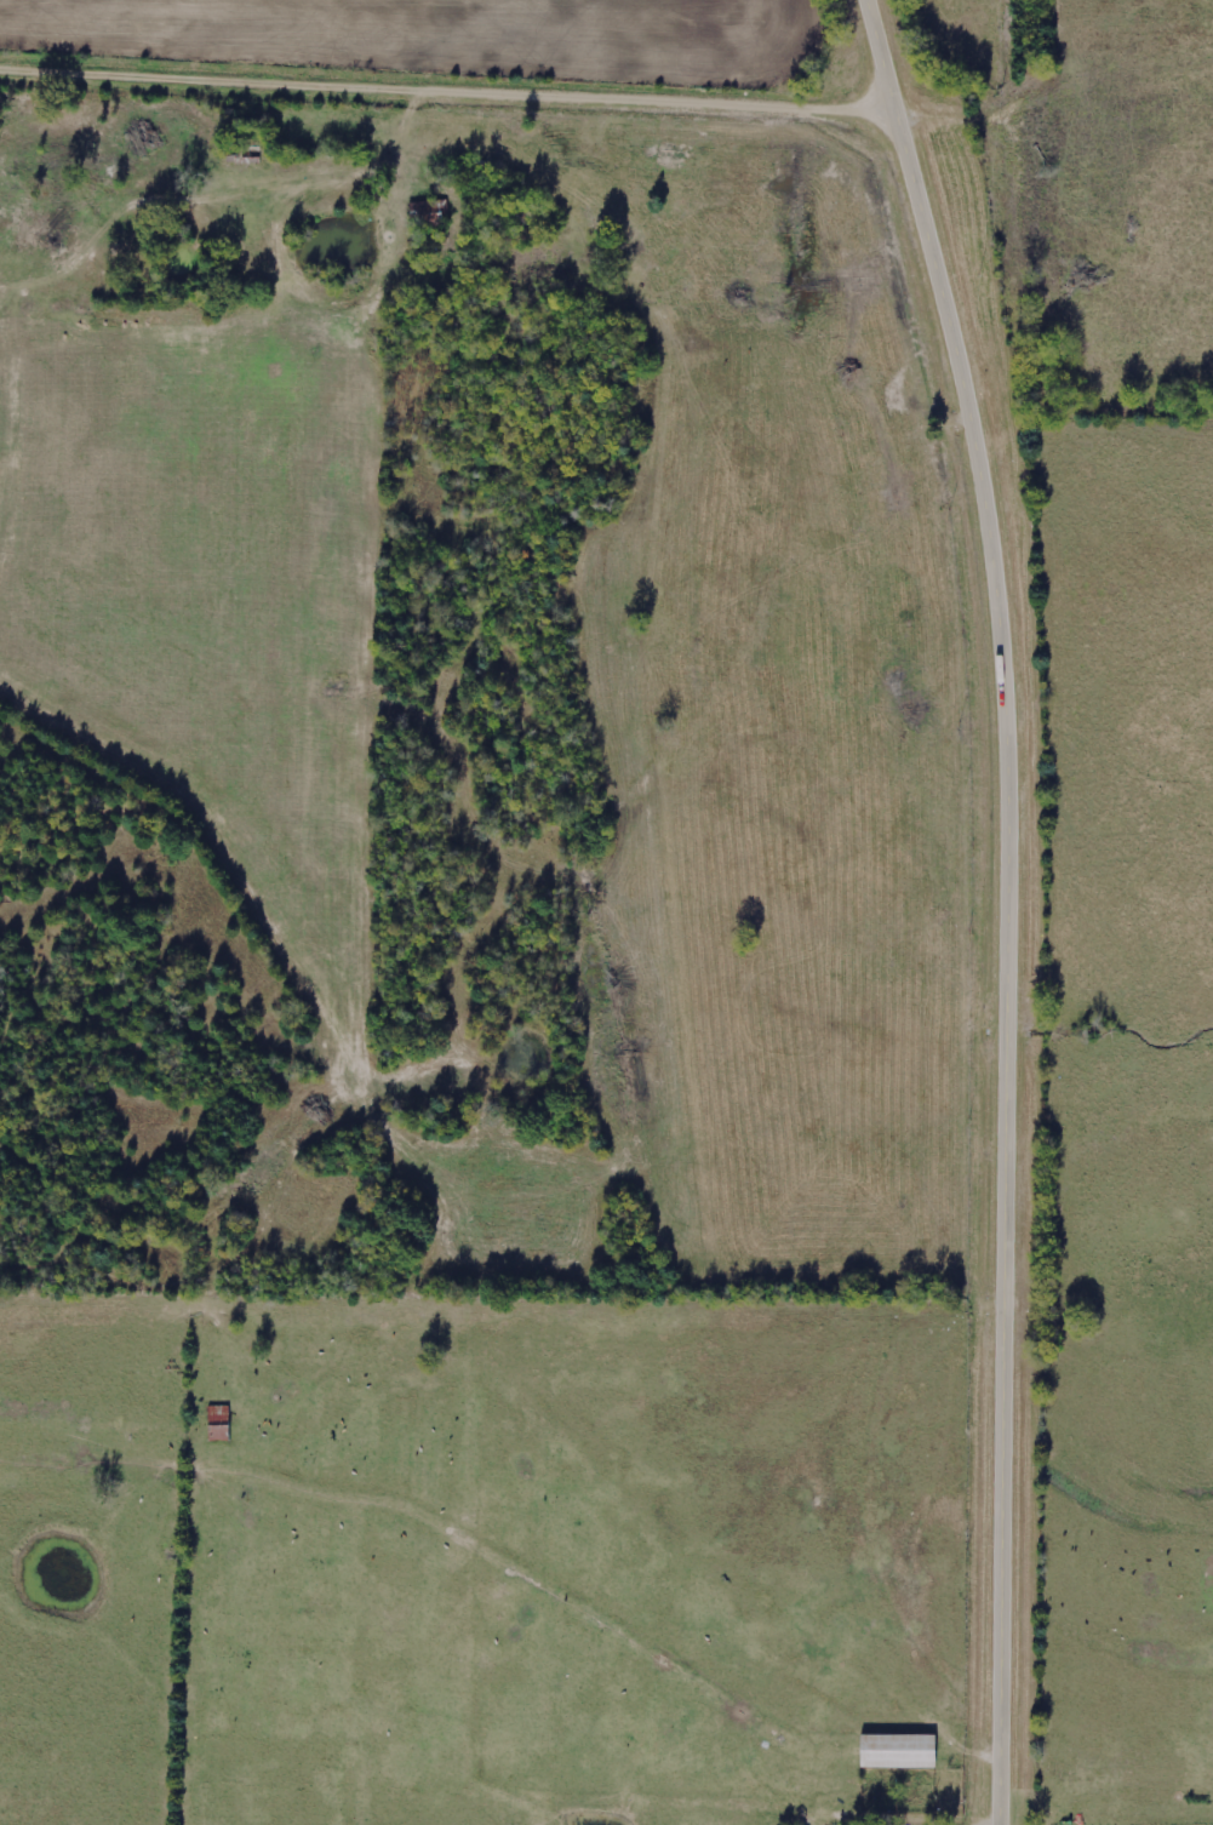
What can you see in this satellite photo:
road: (447, 96)
road: (1009, 904)
building: (897, 1752)

